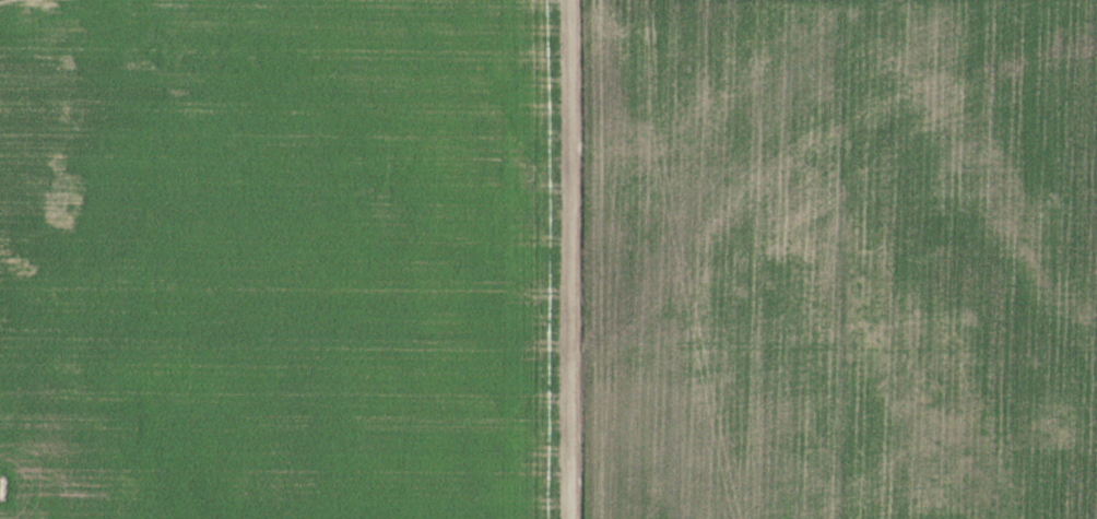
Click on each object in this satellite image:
road: (568, 259)

